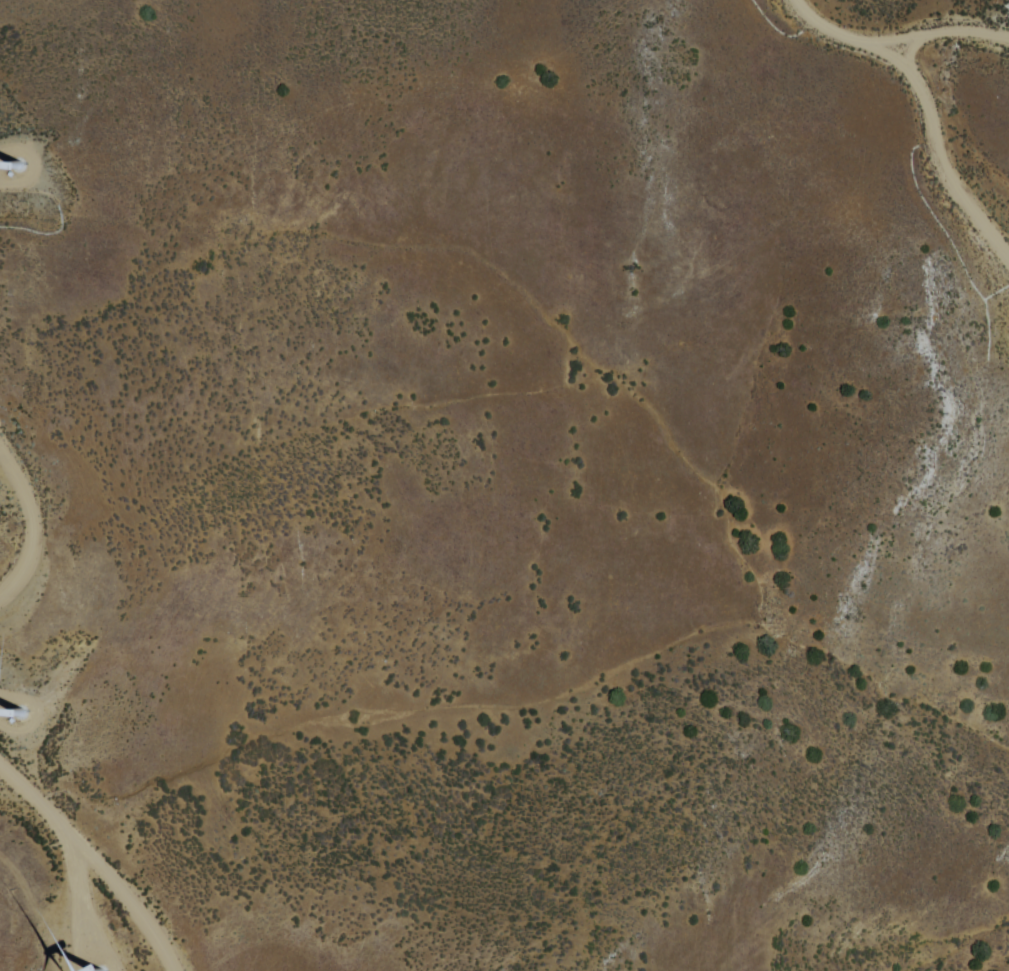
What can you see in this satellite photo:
road: (838, 28)
wind turbine: (14, 142)
road: (947, 143)

